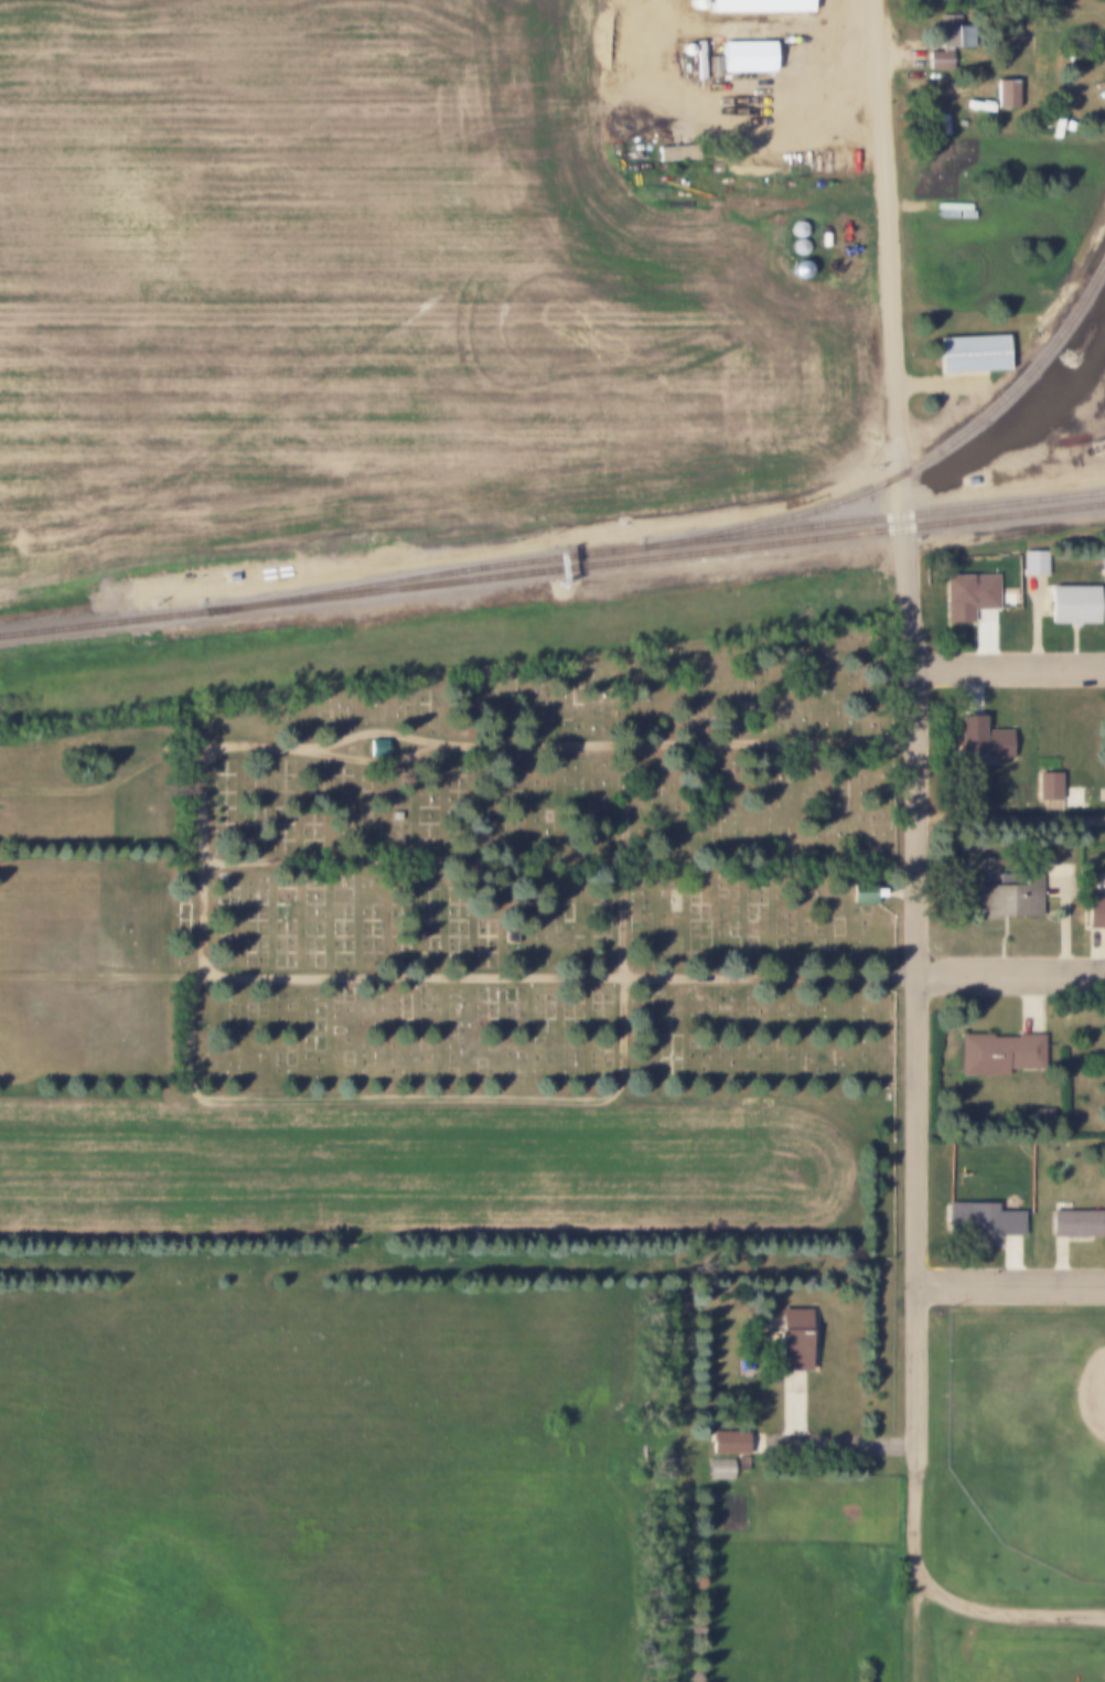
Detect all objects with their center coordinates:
building: (695, 3)
silo: (695, 3)
building: (758, 4)
building: (948, 41)
building: (685, 50)
silo: (685, 50)
building: (745, 57)
building: (697, 61)
building: (712, 66)
building: (1006, 94)
road: (739, 115)
building: (675, 152)
building: (795, 229)
silo: (795, 229)
building: (796, 247)
silo: (796, 247)
building: (797, 270)
silo: (797, 270)
building: (970, 347)
railway: (916, 470)
railway: (652, 549)
building: (1102, 563)
building: (1032, 564)
railway: (551, 571)
building: (228, 577)
building: (966, 596)
building: (1071, 604)
road: (1009, 665)
road: (915, 736)
building: (977, 739)
road: (108, 774)
building: (1045, 786)
road: (1010, 818)
road: (204, 855)
road: (232, 856)
building: (861, 892)
building: (1011, 899)
building: (1094, 913)
park: (459, 964)
road: (1010, 975)
building: (998, 1051)
road: (516, 1094)
building: (980, 1220)
building: (1076, 1224)
road: (1011, 1281)
building: (796, 1342)
building: (732, 1446)
park: (1020, 1457)
building: (725, 1471)
road: (955, 1606)
road: (918, 1631)
park: (1031, 1665)

